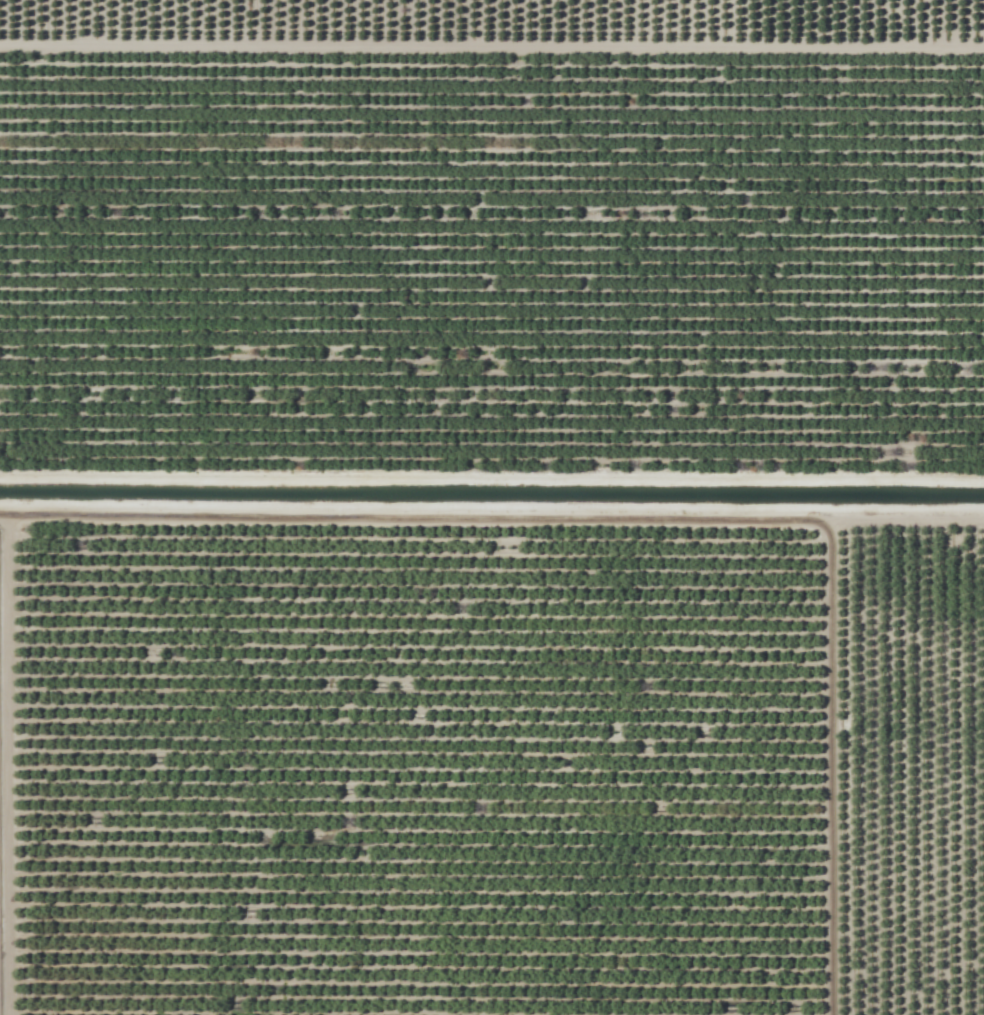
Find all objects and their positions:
crop: (494, 30)
road: (492, 39)
crop: (492, 283)
road: (491, 512)
road: (11, 762)
road: (829, 765)

